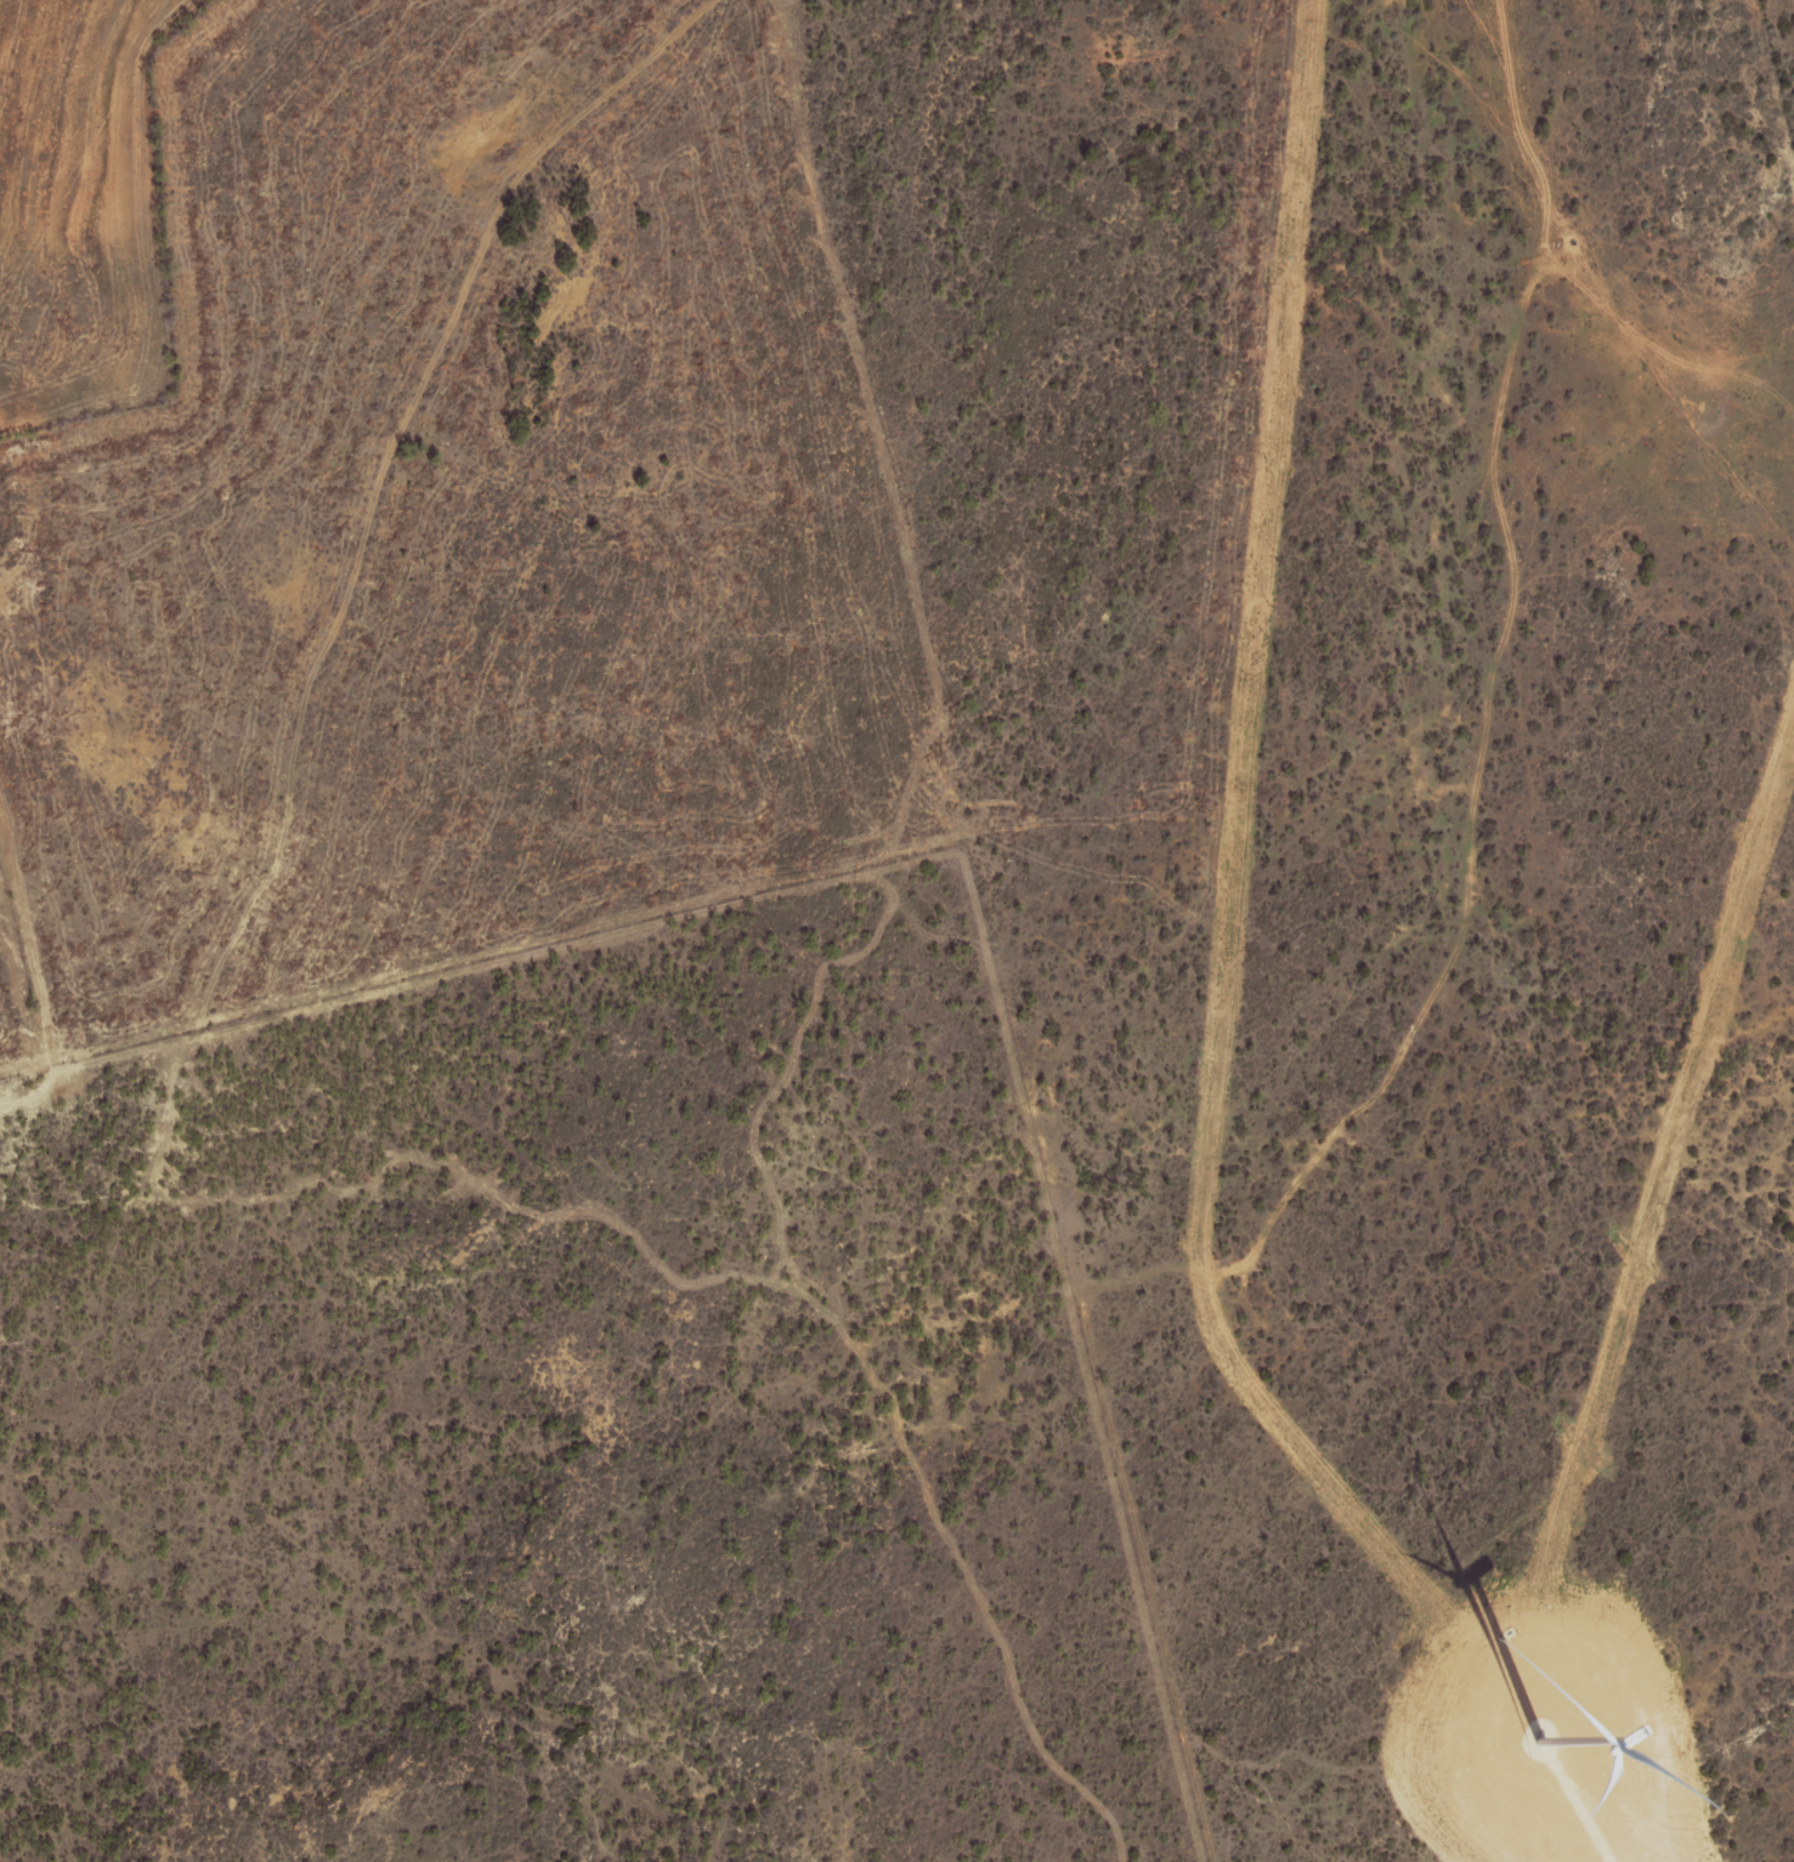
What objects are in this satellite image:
wind turbine: (1545, 1743)
road: (1586, 1810)

